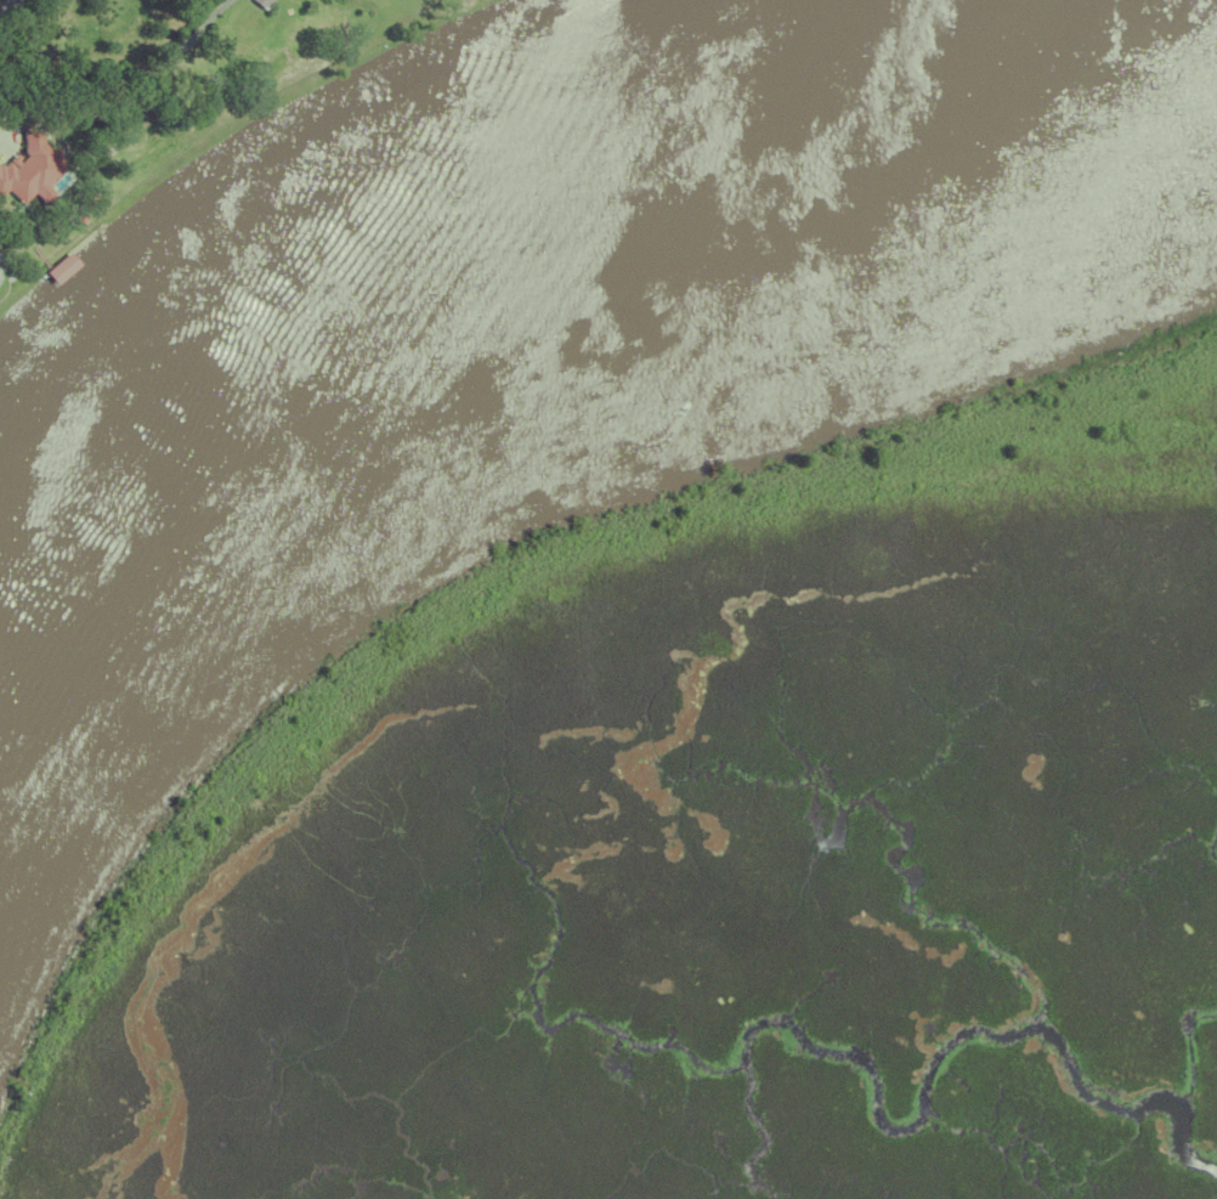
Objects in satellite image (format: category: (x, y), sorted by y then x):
building: (259, 1)
road: (5, 4)
building: (29, 165)
building: (60, 265)
river: (565, 265)
building: (24, 298)

